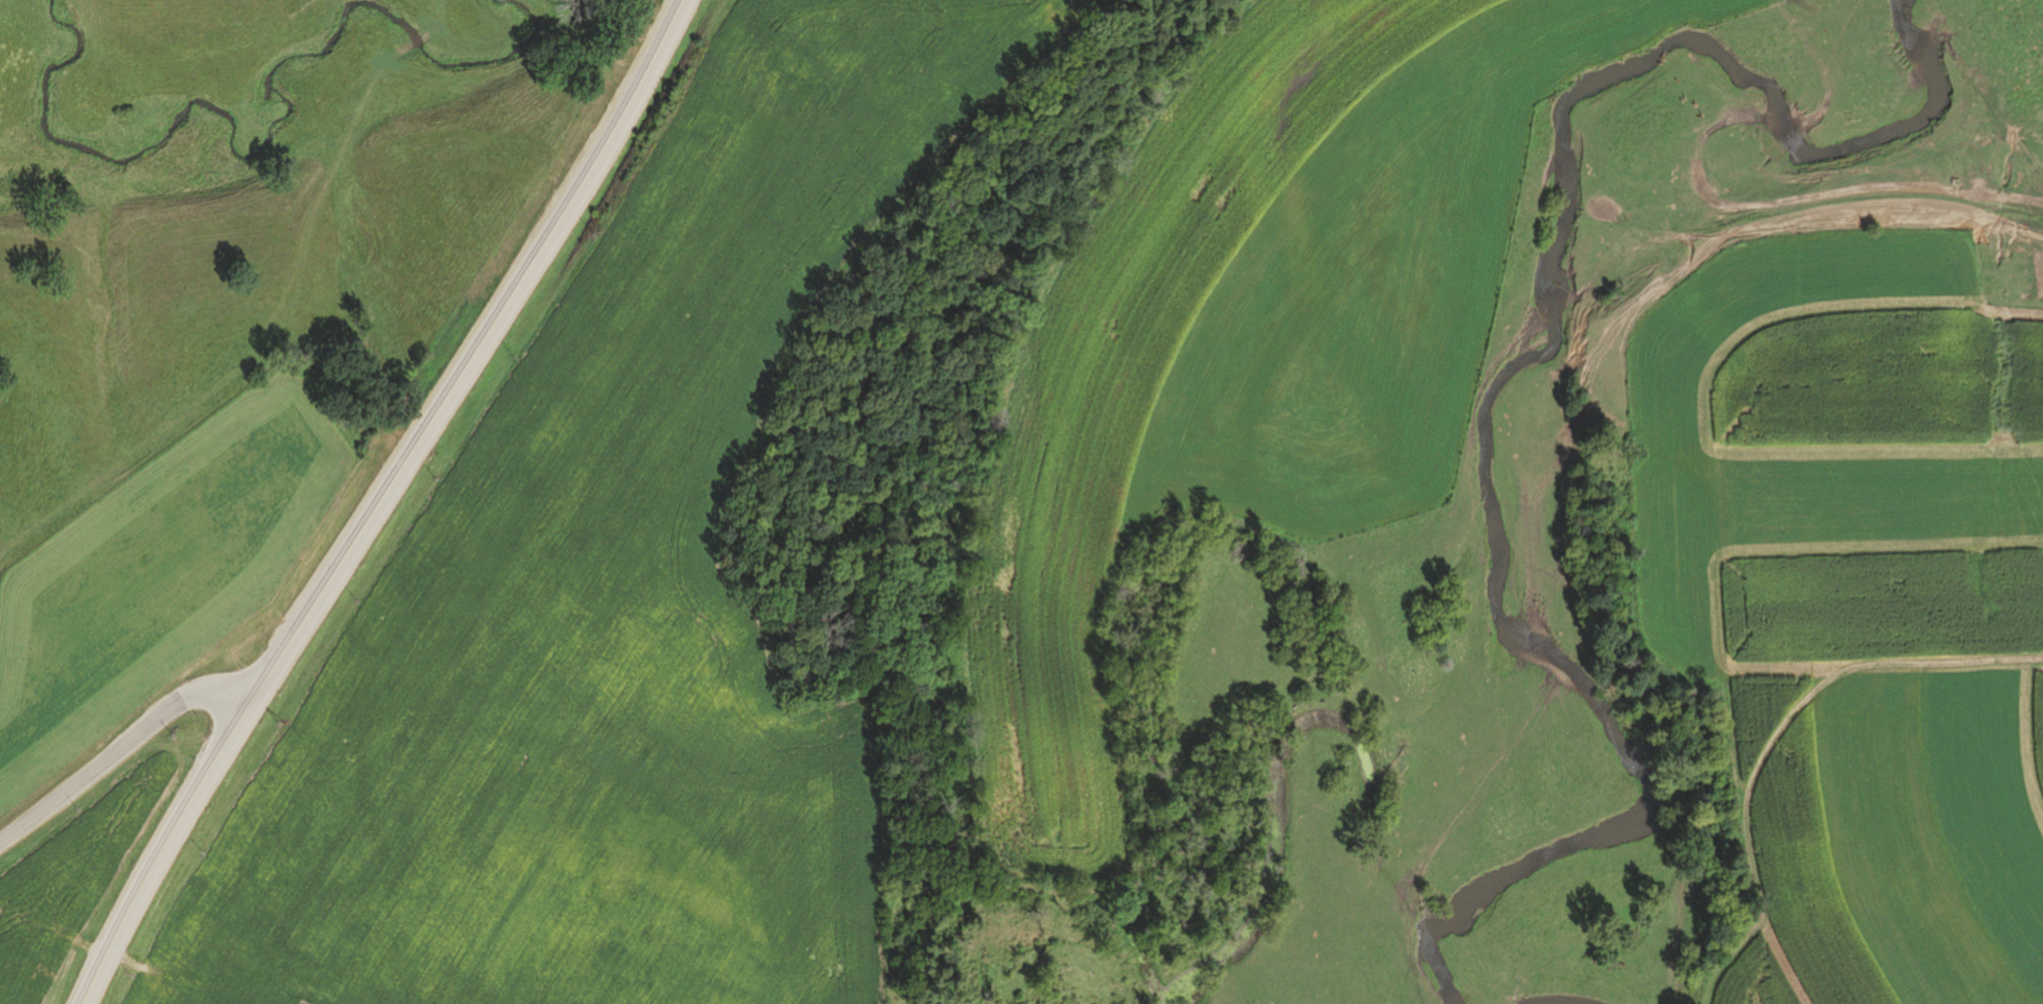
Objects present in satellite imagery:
road: (380, 500)
road: (116, 761)

